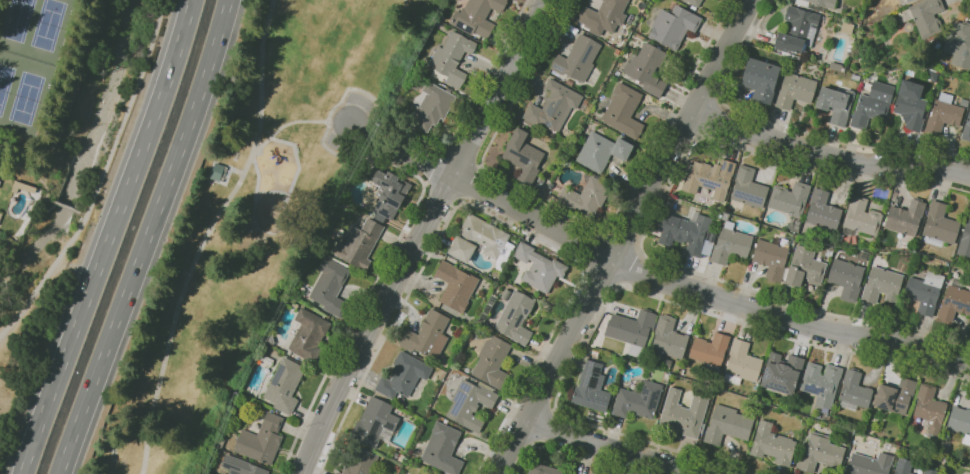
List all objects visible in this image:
building: (909, 1)
building: (695, 2)
building: (817, 3)
road: (965, 3)
building: (603, 16)
building: (477, 17)
building: (924, 17)
building: (674, 25)
park: (34, 27)
building: (797, 31)
building: (959, 43)
building: (937, 45)
building: (579, 58)
building: (452, 59)
building: (648, 67)
building: (836, 67)
building: (855, 77)
park: (41, 78)
building: (760, 79)
building: (794, 90)
park: (22, 92)
building: (963, 102)
road: (471, 104)
building: (835, 104)
building: (872, 105)
building: (910, 105)
building: (432, 107)
building: (554, 107)
road: (80, 110)
building: (624, 111)
building: (944, 114)
road: (710, 117)
road: (295, 123)
road: (788, 125)
building: (966, 129)
road: (401, 149)
building: (603, 151)
road: (463, 155)
building: (524, 156)
road: (829, 159)
road: (234, 170)
building: (216, 171)
road: (99, 177)
building: (710, 178)
building: (0, 182)
road: (472, 183)
road: (44, 184)
building: (23, 187)
building: (749, 188)
building: (388, 192)
road: (443, 192)
building: (587, 196)
building: (790, 198)
road: (64, 206)
building: (823, 210)
road: (78, 212)
building: (1, 216)
road: (489, 216)
road: (574, 216)
road: (535, 217)
building: (860, 218)
park: (249, 219)
building: (905, 219)
road: (651, 221)
building: (940, 224)
building: (794, 225)
road: (207, 234)
building: (688, 234)
road: (425, 235)
road: (108, 237)
road: (626, 237)
road: (146, 238)
road: (621, 239)
building: (875, 240)
building: (482, 241)
building: (965, 241)
building: (360, 244)
building: (731, 244)
road: (593, 246)
building: (773, 258)
building: (540, 268)
building: (805, 268)
road: (631, 269)
road: (601, 276)
building: (847, 278)
building: (331, 285)
building: (883, 285)
building: (456, 286)
road: (625, 288)
building: (924, 292)
road: (367, 299)
building: (954, 304)
building: (517, 317)
road: (789, 319)
building: (632, 330)
building: (426, 333)
building: (309, 334)
building: (668, 339)
building: (711, 350)
building: (596, 353)
building: (276, 354)
building: (493, 362)
building: (742, 363)
building: (783, 372)
building: (404, 375)
building: (822, 382)
building: (285, 385)
building: (592, 388)
building: (854, 390)
building: (896, 398)
building: (638, 399)
building: (471, 403)
building: (931, 408)
building: (684, 413)
building: (376, 422)
building: (960, 422)
building: (728, 424)
building: (262, 440)
building: (773, 444)
road: (612, 447)
building: (443, 448)
building: (821, 454)
road: (564, 455)
building: (360, 462)
building: (870, 464)
building: (242, 466)
building: (904, 466)
building: (543, 469)
building: (931, 471)
building: (948, 473)

